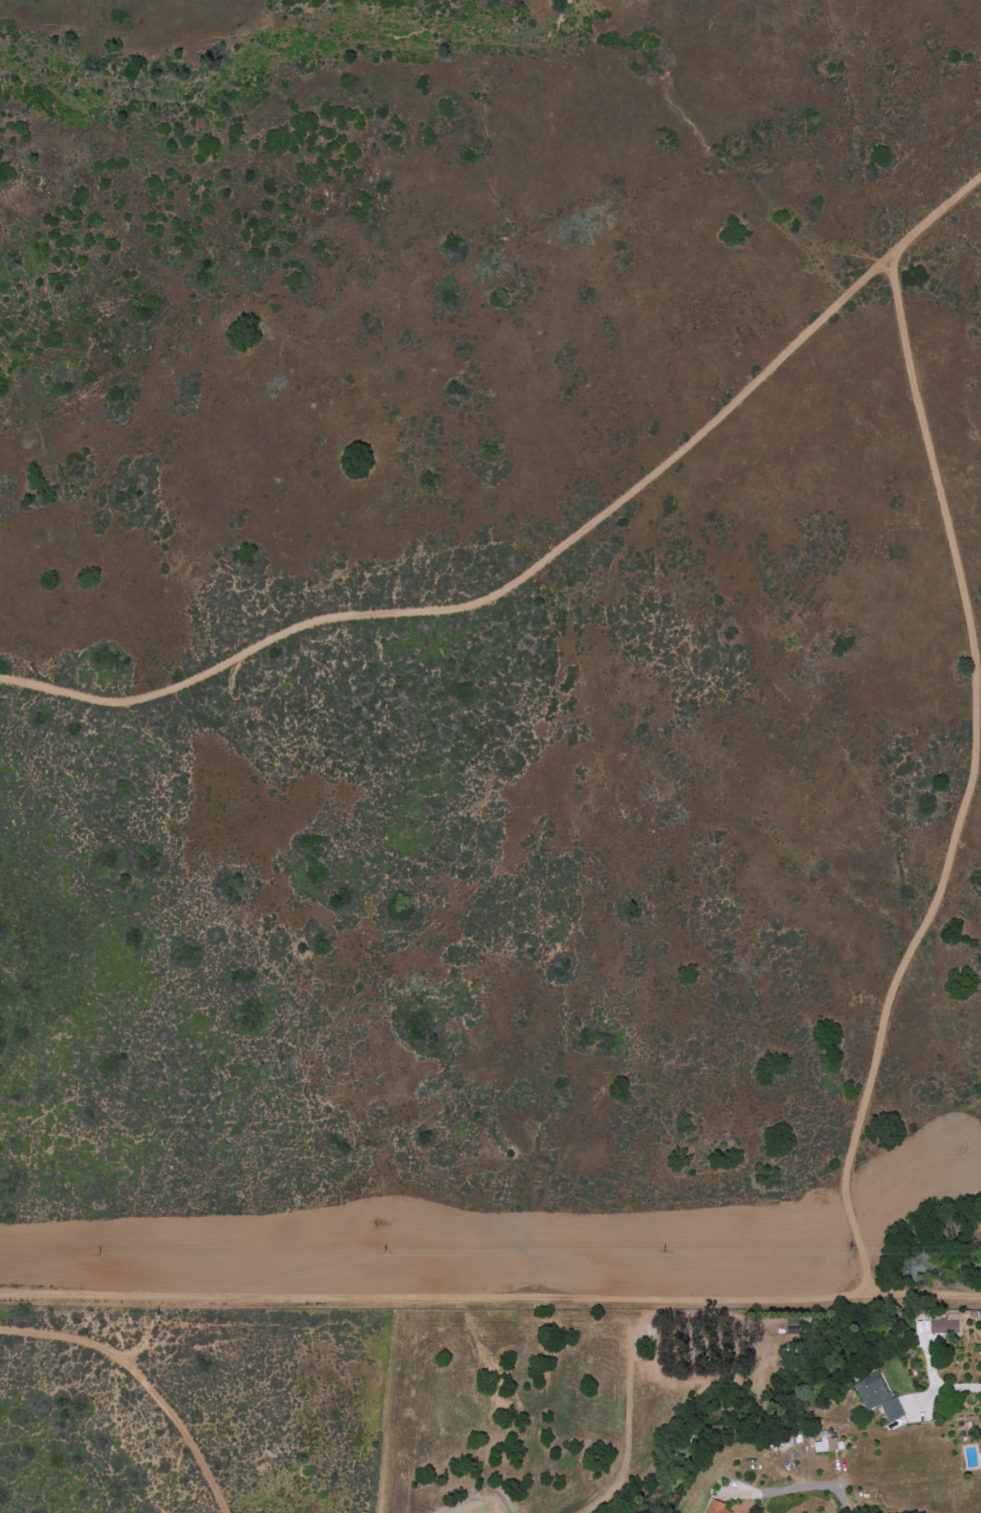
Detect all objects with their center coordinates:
road: (490, 1299)
building: (945, 1324)
road: (142, 1379)
road: (947, 1388)
building: (879, 1397)
building: (826, 1445)
road: (808, 1485)
building: (716, 1507)

